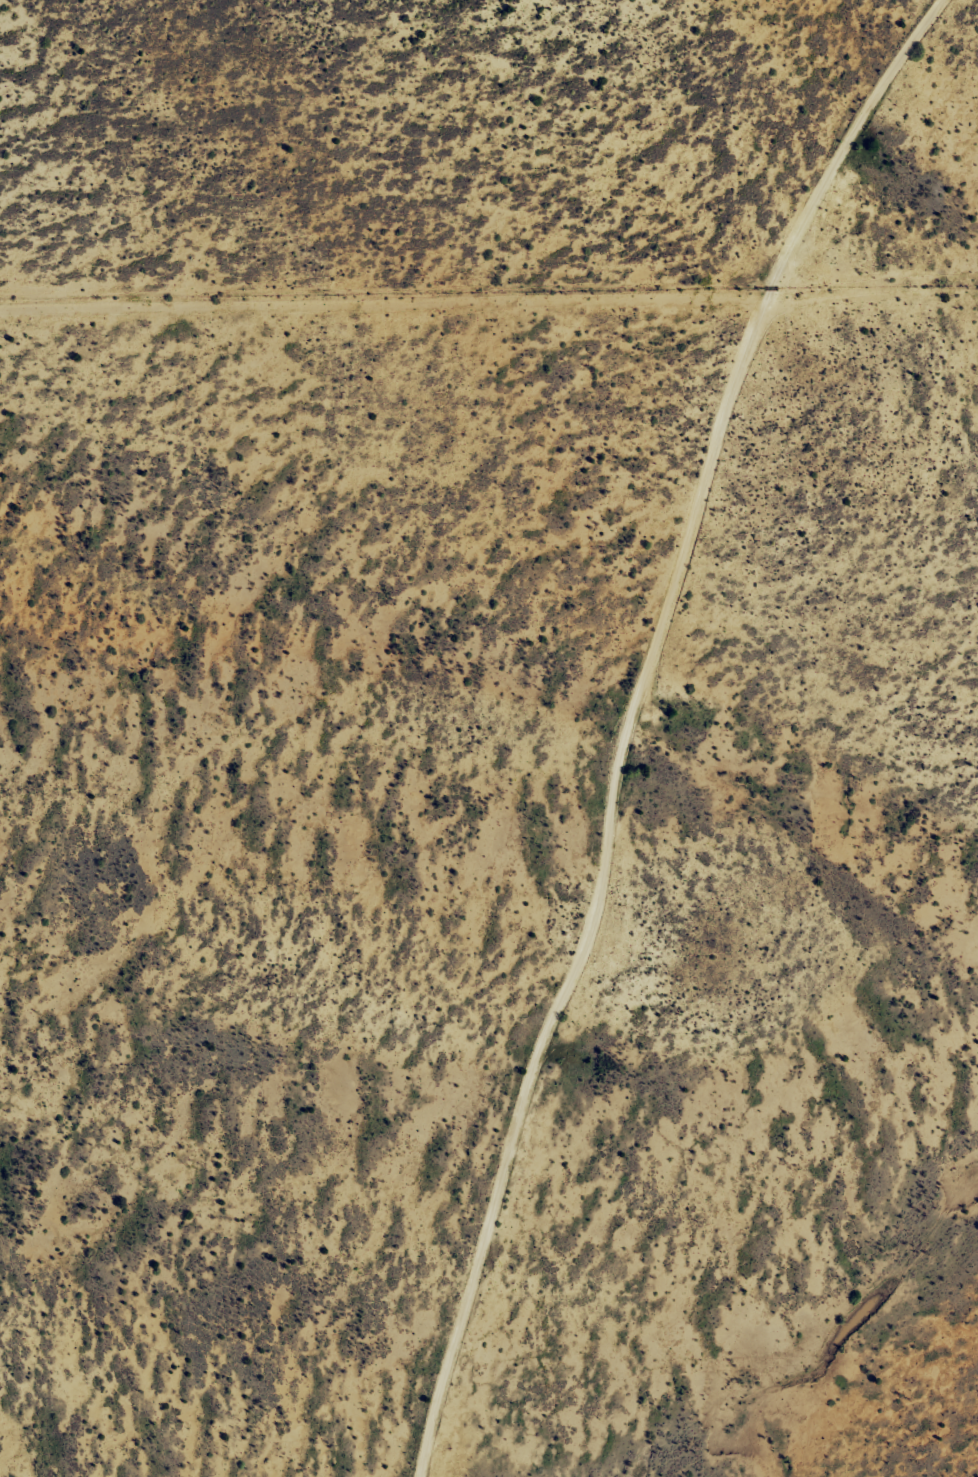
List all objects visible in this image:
road: (656, 726)

